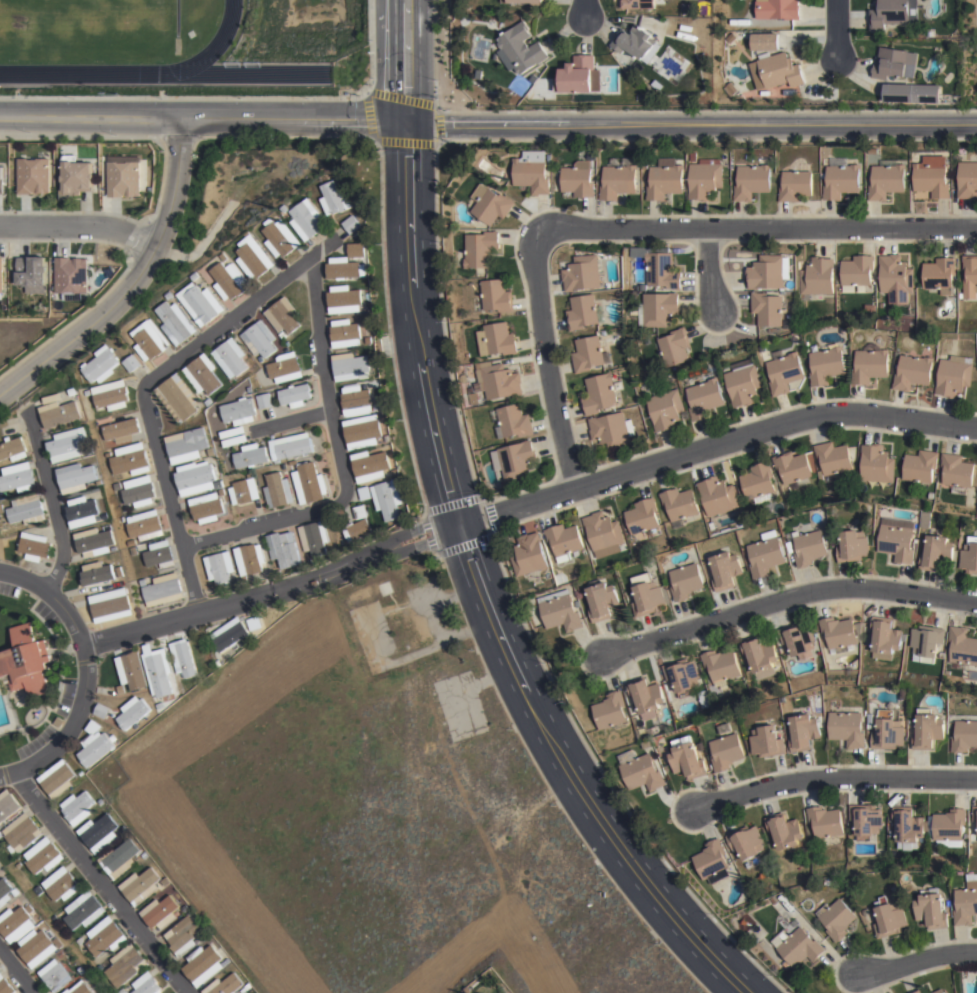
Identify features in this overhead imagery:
building: (515, 0)
building: (538, 3)
building: (638, 3)
building: (777, 8)
road: (583, 9)
building: (913, 10)
building: (888, 13)
road: (836, 28)
track: (109, 35)
building: (764, 40)
building: (636, 42)
building: (519, 48)
road: (413, 61)
building: (894, 62)
building: (669, 68)
building: (775, 71)
track: (246, 75)
building: (574, 75)
building: (912, 92)
road: (204, 121)
road: (693, 122)
building: (692, 156)
building: (531, 171)
building: (33, 175)
building: (76, 175)
building: (124, 175)
building: (931, 176)
building: (578, 178)
building: (618, 178)
building: (704, 178)
building: (839, 178)
building: (1, 179)
building: (664, 179)
building: (886, 179)
building: (967, 179)
building: (751, 181)
building: (795, 183)
building: (335, 198)
building: (490, 204)
building: (286, 207)
building: (307, 219)
building: (352, 223)
road: (79, 226)
road: (759, 229)
building: (281, 237)
building: (479, 248)
building: (357, 249)
building: (225, 257)
building: (254, 257)
building: (345, 267)
building: (660, 270)
building: (768, 272)
building: (32, 273)
building: (582, 273)
building: (856, 273)
building: (1, 274)
building: (71, 274)
building: (939, 274)
road: (711, 275)
building: (970, 276)
building: (816, 277)
building: (895, 278)
building: (229, 280)
road: (132, 283)
building: (495, 296)
building: (344, 299)
building: (200, 302)
building: (658, 309)
building: (767, 309)
building: (584, 311)
building: (281, 315)
building: (176, 322)
building: (345, 333)
building: (259, 339)
building: (496, 339)
building: (149, 340)
building: (672, 347)
building: (950, 349)
building: (589, 354)
building: (230, 358)
building: (260, 358)
road: (546, 362)
building: (131, 363)
building: (826, 364)
building: (870, 364)
building: (101, 365)
building: (351, 366)
building: (285, 367)
building: (784, 372)
building: (912, 372)
building: (202, 374)
building: (954, 375)
building: (497, 380)
road: (147, 383)
building: (743, 383)
building: (250, 389)
building: (468, 389)
building: (72, 391)
building: (87, 393)
building: (600, 394)
building: (110, 395)
building: (296, 395)
building: (473, 396)
building: (176, 397)
building: (51, 398)
building: (703, 399)
building: (356, 400)
building: (265, 401)
building: (666, 409)
building: (240, 411)
building: (58, 413)
building: (511, 422)
road: (290, 423)
building: (121, 427)
building: (612, 430)
building: (9, 431)
building: (363, 431)
building: (388, 439)
building: (67, 444)
building: (187, 445)
road: (714, 445)
building: (292, 446)
building: (13, 450)
building: (90, 451)
building: (251, 456)
building: (130, 459)
building: (516, 459)
building: (832, 460)
building: (293, 463)
road: (340, 464)
building: (373, 464)
building: (876, 464)
building: (284, 467)
building: (919, 467)
building: (792, 468)
building: (956, 471)
building: (395, 472)
building: (819, 476)
building: (75, 477)
building: (18, 478)
building: (195, 478)
building: (309, 483)
building: (502, 483)
building: (757, 483)
building: (219, 484)
building: (244, 490)
building: (278, 491)
building: (138, 492)
building: (365, 493)
building: (716, 496)
building: (389, 499)
road: (51, 503)
building: (678, 504)
building: (207, 508)
building: (27, 509)
building: (82, 512)
building: (360, 512)
building: (105, 516)
building: (641, 516)
building: (144, 526)
building: (357, 530)
building: (604, 532)
building: (314, 539)
building: (896, 540)
building: (563, 541)
building: (95, 542)
building: (833, 543)
building: (35, 547)
building: (807, 547)
building: (852, 547)
building: (114, 549)
building: (284, 550)
building: (936, 553)
building: (159, 555)
building: (765, 555)
building: (969, 556)
building: (529, 557)
building: (250, 559)
building: (219, 567)
building: (724, 571)
building: (96, 573)
building: (547, 575)
building: (684, 582)
road: (271, 588)
building: (384, 589)
building: (162, 591)
road: (483, 594)
building: (646, 595)
road: (783, 599)
building: (602, 602)
building: (111, 606)
building: (559, 611)
building: (253, 624)
building: (838, 634)
building: (228, 635)
building: (885, 638)
building: (797, 639)
building: (926, 641)
building: (961, 647)
building: (183, 658)
building: (757, 658)
building: (27, 662)
building: (217, 664)
building: (721, 668)
building: (131, 669)
building: (157, 671)
road: (85, 675)
building: (683, 677)
building: (644, 698)
building: (160, 706)
building: (101, 711)
building: (608, 712)
building: (134, 713)
building: (57, 721)
building: (92, 728)
building: (847, 729)
building: (927, 731)
building: (888, 732)
building: (803, 733)
building: (964, 737)
building: (766, 743)
building: (646, 746)
building: (95, 748)
building: (725, 750)
building: (686, 760)
building: (639, 772)
building: (81, 773)
road: (829, 778)
building: (57, 780)
building: (101, 802)
building: (7, 806)
building: (78, 808)
building: (974, 819)
building: (865, 821)
building: (825, 825)
building: (948, 826)
building: (907, 829)
building: (784, 832)
building: (21, 833)
building: (98, 834)
building: (745, 844)
building: (42, 857)
building: (119, 860)
building: (711, 863)
building: (827, 883)
road: (101, 884)
building: (60, 886)
building: (142, 887)
building: (892, 889)
building: (5, 893)
building: (16, 893)
building: (966, 903)
building: (31, 910)
building: (83, 912)
building: (932, 913)
building: (160, 914)
building: (866, 916)
building: (54, 918)
building: (835, 920)
building: (889, 920)
building: (15, 925)
building: (184, 936)
building: (104, 938)
building: (796, 948)
building: (36, 949)
road: (918, 959)
building: (124, 966)
building: (203, 966)
road: (15, 973)
building: (55, 976)
building: (146, 985)
building: (5, 986)
building: (226, 986)
building: (249, 988)
building: (80, 989)
building: (918, 990)
building: (938, 990)
building: (120, 991)

